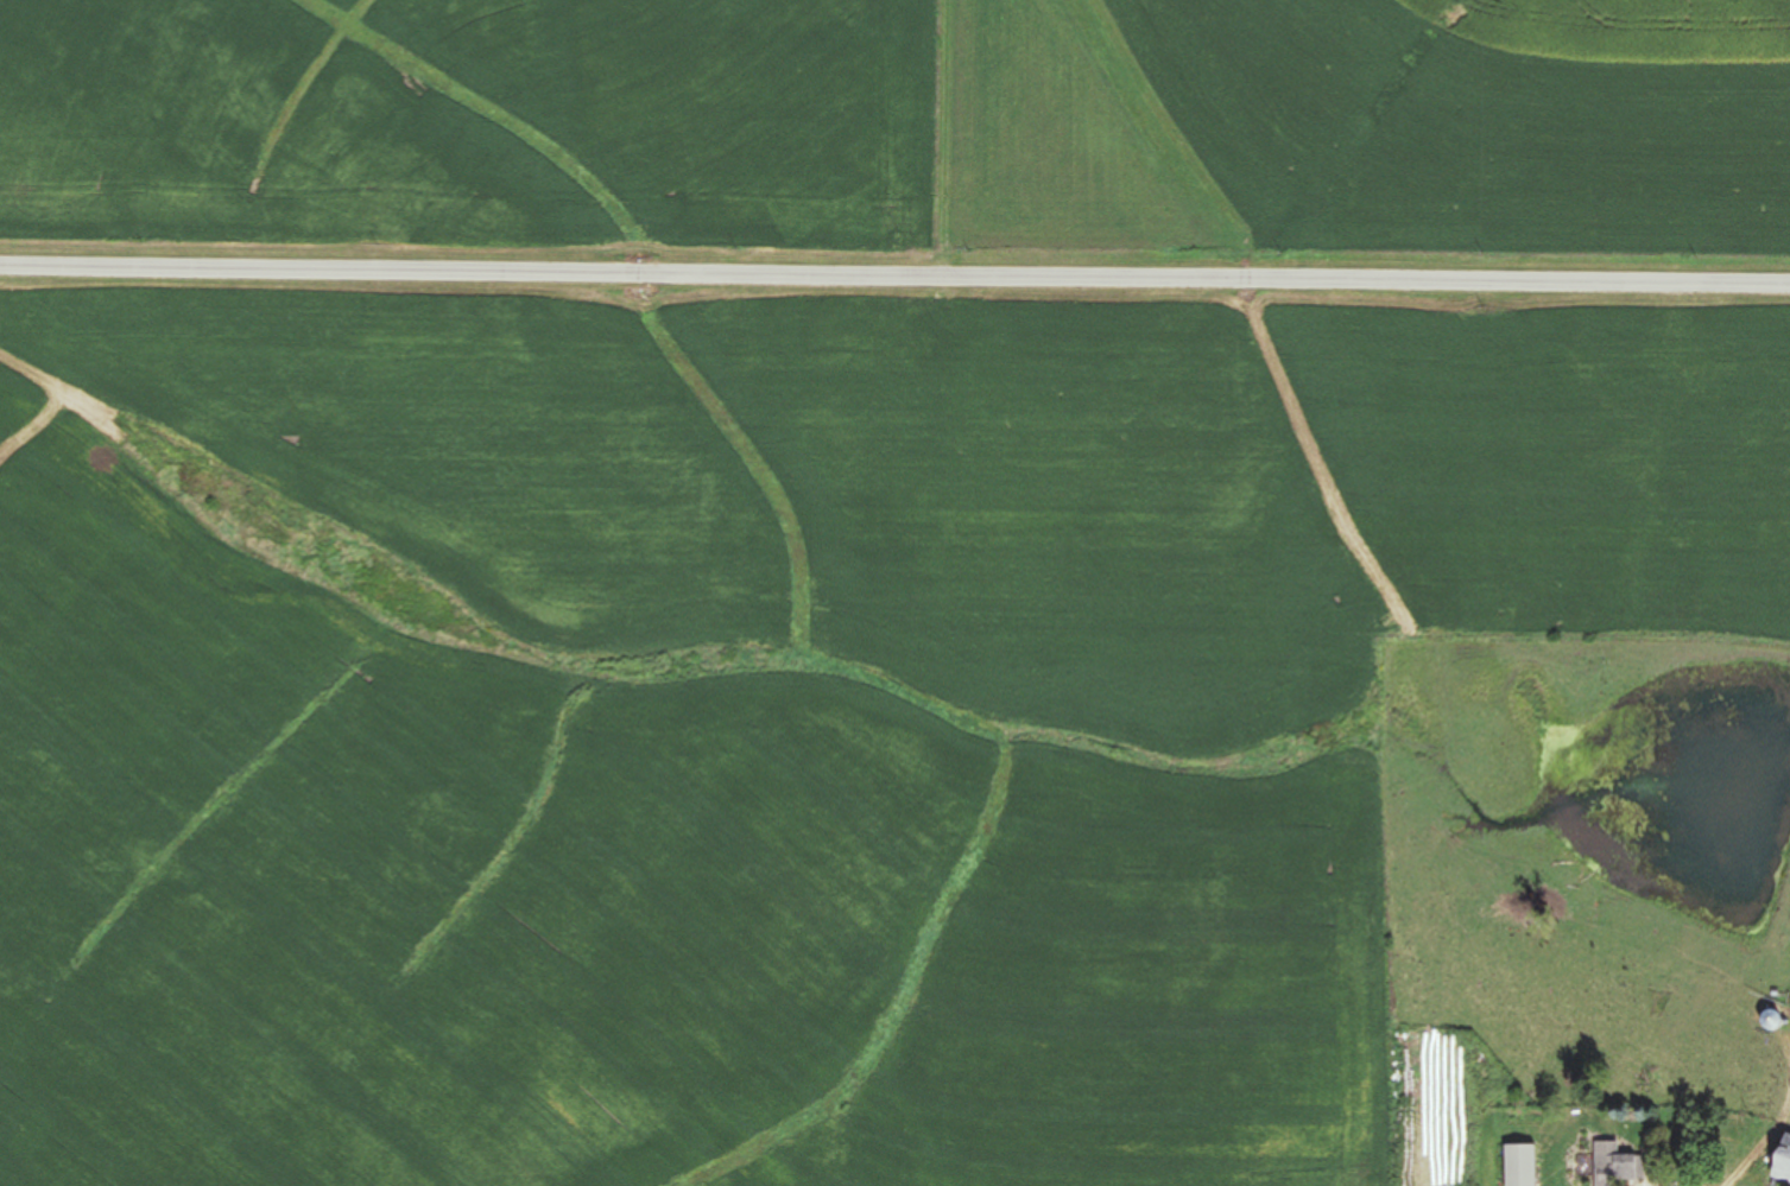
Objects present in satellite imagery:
road: (894, 260)
building: (1766, 1021)
building: (1411, 1082)
building: (1778, 1160)
building: (1608, 1163)
building: (1514, 1165)

